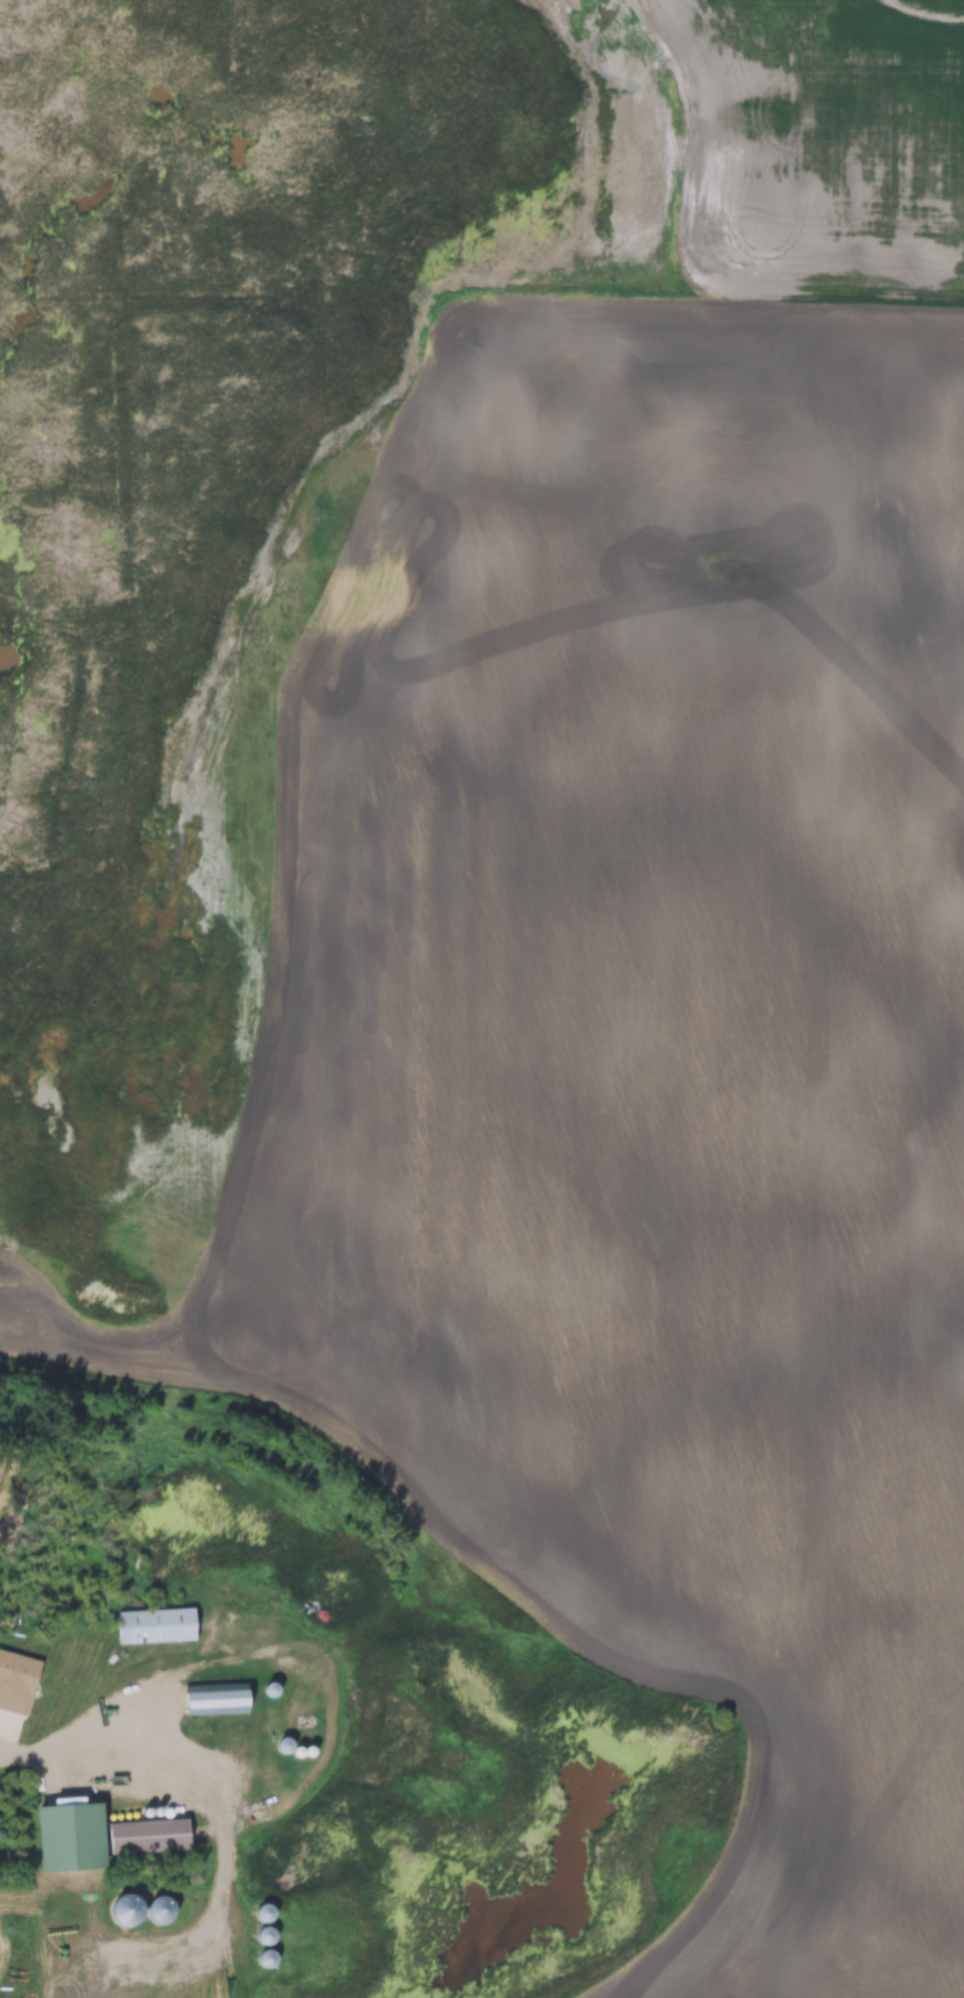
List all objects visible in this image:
building: (156, 1625)
building: (272, 1688)
silo: (272, 1688)
building: (9, 1696)
building: (215, 1699)
building: (271, 1707)
silo: (271, 1707)
building: (270, 1724)
silo: (270, 1724)
road: (328, 1731)
building: (269, 1742)
silo: (269, 1742)
building: (285, 1744)
silo: (285, 1744)
building: (311, 1750)
silo: (311, 1750)
building: (299, 1751)
silo: (299, 1751)
road: (25, 1754)
building: (270, 1761)
silo: (270, 1761)
building: (270, 1783)
silo: (270, 1783)
building: (268, 1801)
silo: (268, 1801)
building: (171, 1811)
silo: (171, 1811)
building: (158, 1812)
silo: (158, 1812)
building: (145, 1813)
silo: (145, 1813)
building: (68, 1836)
building: (147, 1840)
building: (162, 1908)
silo: (162, 1908)
building: (126, 1909)
silo: (126, 1909)
building: (266, 1912)
silo: (266, 1912)
building: (266, 1933)
silo: (266, 1933)
building: (266, 1959)
silo: (266, 1959)

